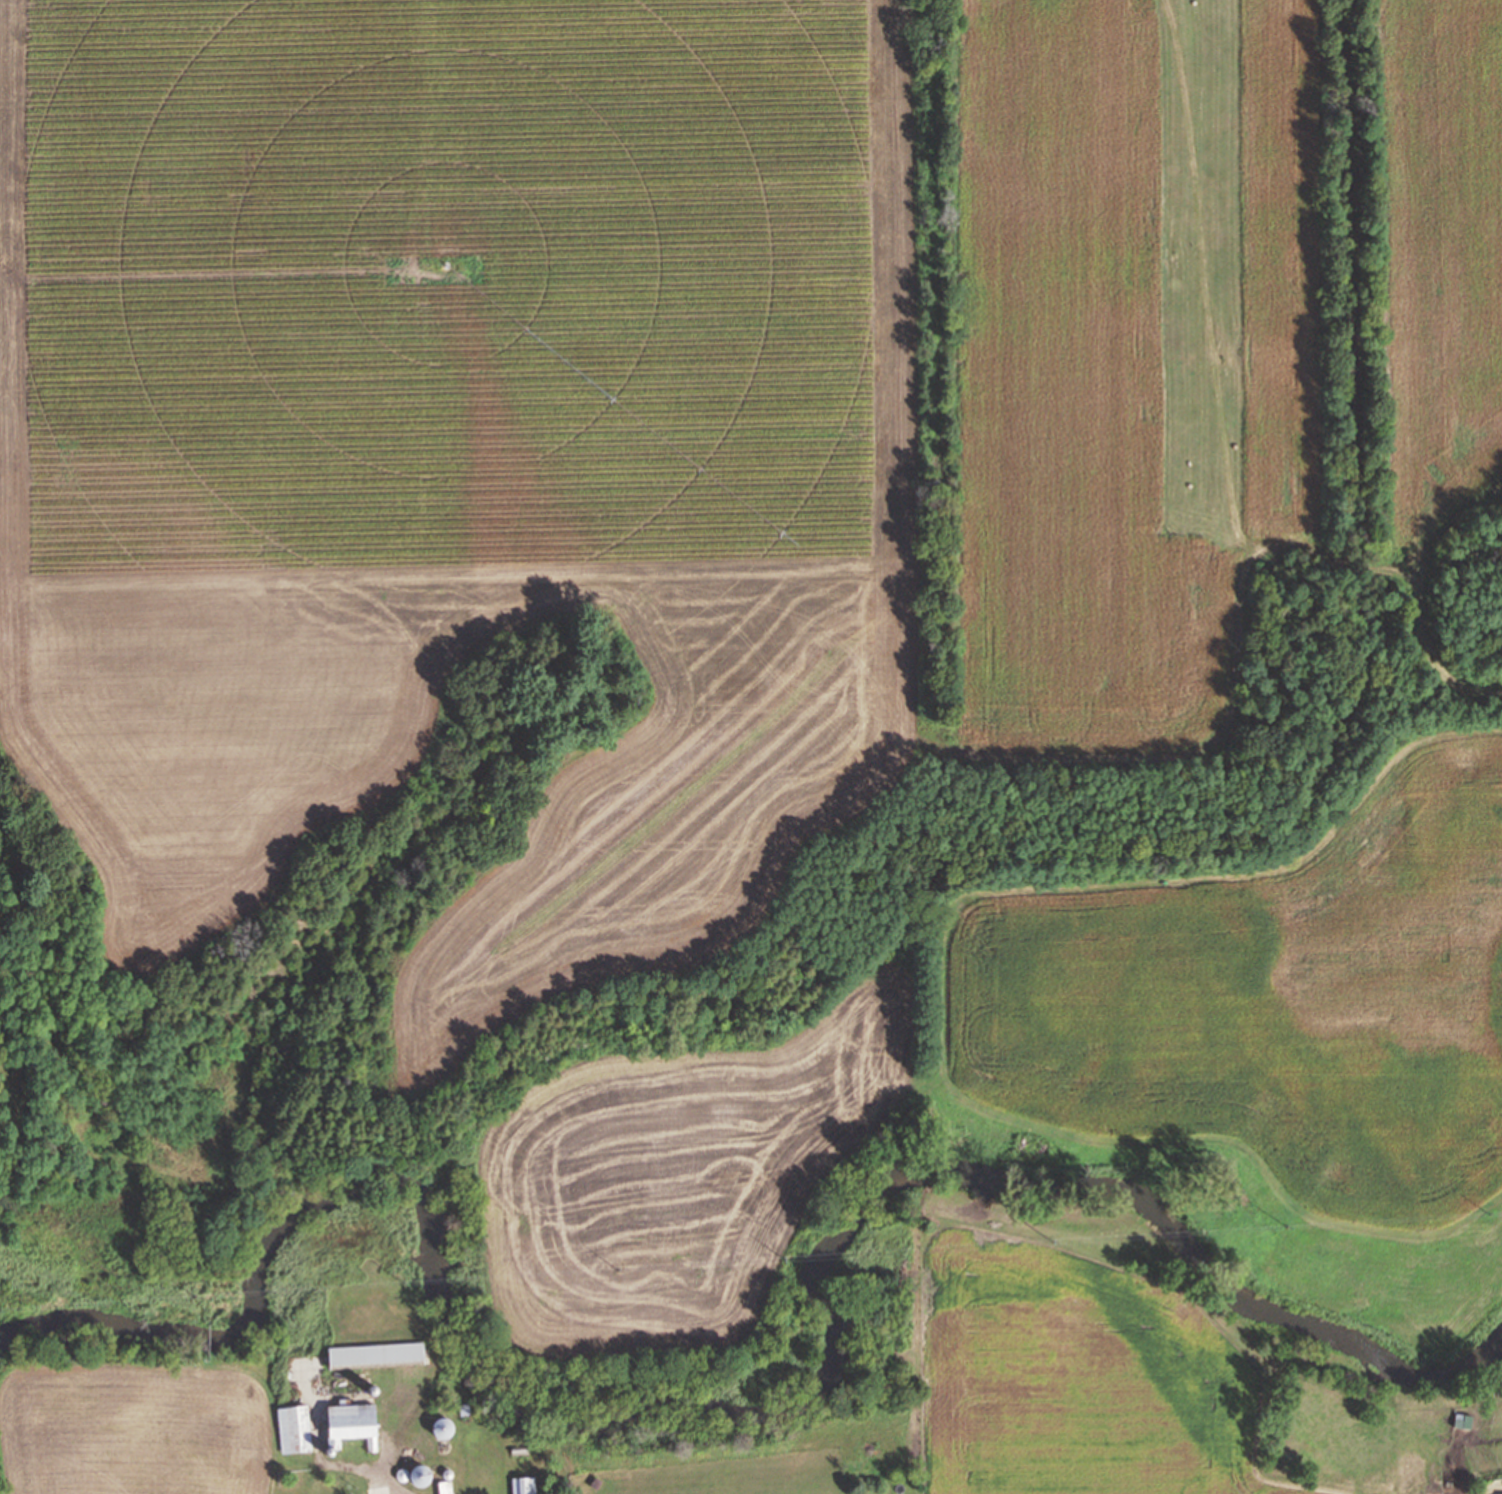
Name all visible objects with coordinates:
road: (1326, 385)
park: (1220, 641)
road: (1433, 643)
building: (375, 1354)
building: (465, 1408)
building: (352, 1424)
building: (293, 1427)
building: (448, 1429)
building: (521, 1446)
building: (425, 1476)
road: (384, 1482)
building: (524, 1484)
building: (445, 1486)

